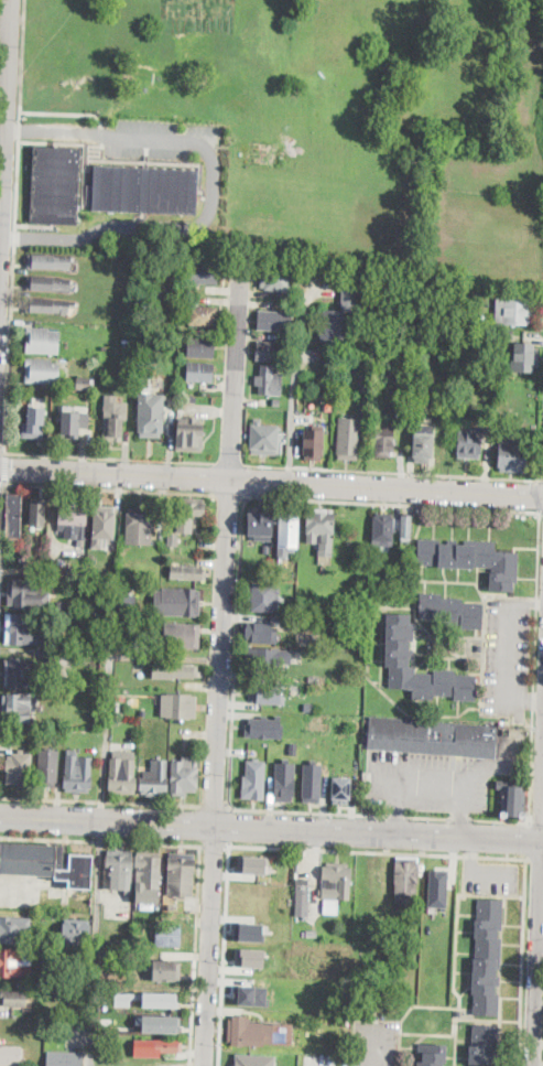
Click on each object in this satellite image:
road: (65, 114)
road: (4, 144)
building: (54, 183)
road: (213, 186)
building: (144, 187)
road: (17, 226)
road: (1, 235)
building: (48, 261)
building: (173, 267)
building: (206, 273)
building: (276, 281)
building: (47, 284)
building: (193, 297)
building: (47, 305)
building: (488, 308)
building: (513, 311)
building: (338, 314)
building: (203, 315)
building: (275, 320)
building: (468, 320)
building: (508, 333)
building: (287, 337)
building: (42, 338)
building: (202, 348)
building: (129, 349)
building: (270, 352)
building: (526, 362)
building: (42, 372)
building: (200, 372)
building: (85, 381)
building: (269, 381)
building: (366, 384)
building: (276, 400)
road: (290, 417)
building: (151, 422)
building: (34, 423)
building: (73, 424)
building: (112, 428)
building: (534, 429)
building: (189, 434)
building: (264, 439)
building: (349, 439)
building: (384, 441)
building: (318, 443)
building: (469, 443)
building: (423, 444)
road: (3, 453)
building: (513, 454)
road: (110, 457)
road: (230, 464)
road: (7, 469)
road: (393, 472)
road: (541, 481)
road: (271, 482)
road: (3, 483)
road: (111, 489)
road: (232, 497)
road: (346, 502)
building: (189, 513)
road: (542, 513)
building: (36, 514)
building: (13, 517)
building: (73, 518)
building: (102, 524)
building: (259, 525)
building: (140, 526)
building: (321, 528)
building: (382, 529)
building: (405, 529)
building: (289, 530)
building: (173, 538)
building: (265, 547)
road: (2, 551)
building: (471, 559)
building: (56, 569)
building: (91, 572)
building: (188, 573)
building: (29, 594)
building: (263, 597)
building: (182, 600)
building: (128, 602)
road: (528, 603)
building: (69, 604)
building: (61, 607)
building: (452, 611)
building: (44, 616)
building: (51, 617)
building: (61, 618)
building: (23, 629)
building: (262, 633)
building: (183, 636)
road: (511, 653)
building: (400, 654)
building: (265, 659)
road: (220, 668)
building: (180, 671)
building: (22, 674)
building: (268, 693)
building: (61, 697)
road: (526, 702)
building: (265, 703)
building: (178, 706)
building: (308, 706)
building: (19, 707)
building: (264, 720)
road: (108, 721)
building: (432, 737)
building: (19, 766)
building: (48, 767)
building: (78, 774)
building: (185, 776)
building: (246, 776)
building: (121, 778)
building: (155, 779)
road: (459, 782)
building: (318, 784)
building: (340, 788)
building: (283, 789)
building: (351, 790)
building: (512, 799)
road: (100, 800)
road: (215, 807)
road: (398, 807)
road: (461, 809)
road: (397, 817)
road: (430, 819)
road: (461, 819)
road: (536, 822)
road: (231, 823)
road: (200, 825)
road: (271, 829)
road: (529, 840)
road: (100, 842)
road: (214, 844)
road: (377, 850)
road: (534, 858)
building: (251, 863)
building: (119, 869)
building: (53, 870)
building: (149, 871)
building: (182, 871)
road: (98, 874)
building: (406, 880)
building: (337, 881)
building: (437, 886)
road: (17, 892)
building: (303, 897)
building: (332, 907)
road: (536, 919)
building: (14, 929)
building: (76, 930)
building: (248, 930)
building: (167, 933)
building: (312, 934)
building: (48, 938)
road: (225, 952)
road: (196, 955)
building: (249, 956)
building: (488, 957)
road: (523, 961)
building: (15, 963)
building: (166, 970)
building: (126, 975)
building: (251, 993)
building: (13, 998)
building: (122, 998)
building: (163, 1000)
building: (458, 1012)
building: (160, 1022)
building: (253, 1032)
building: (164, 1045)
road: (377, 1045)
building: (484, 1045)
road: (90, 1046)
building: (11, 1055)
building: (433, 1055)
building: (65, 1058)
building: (253, 1058)

